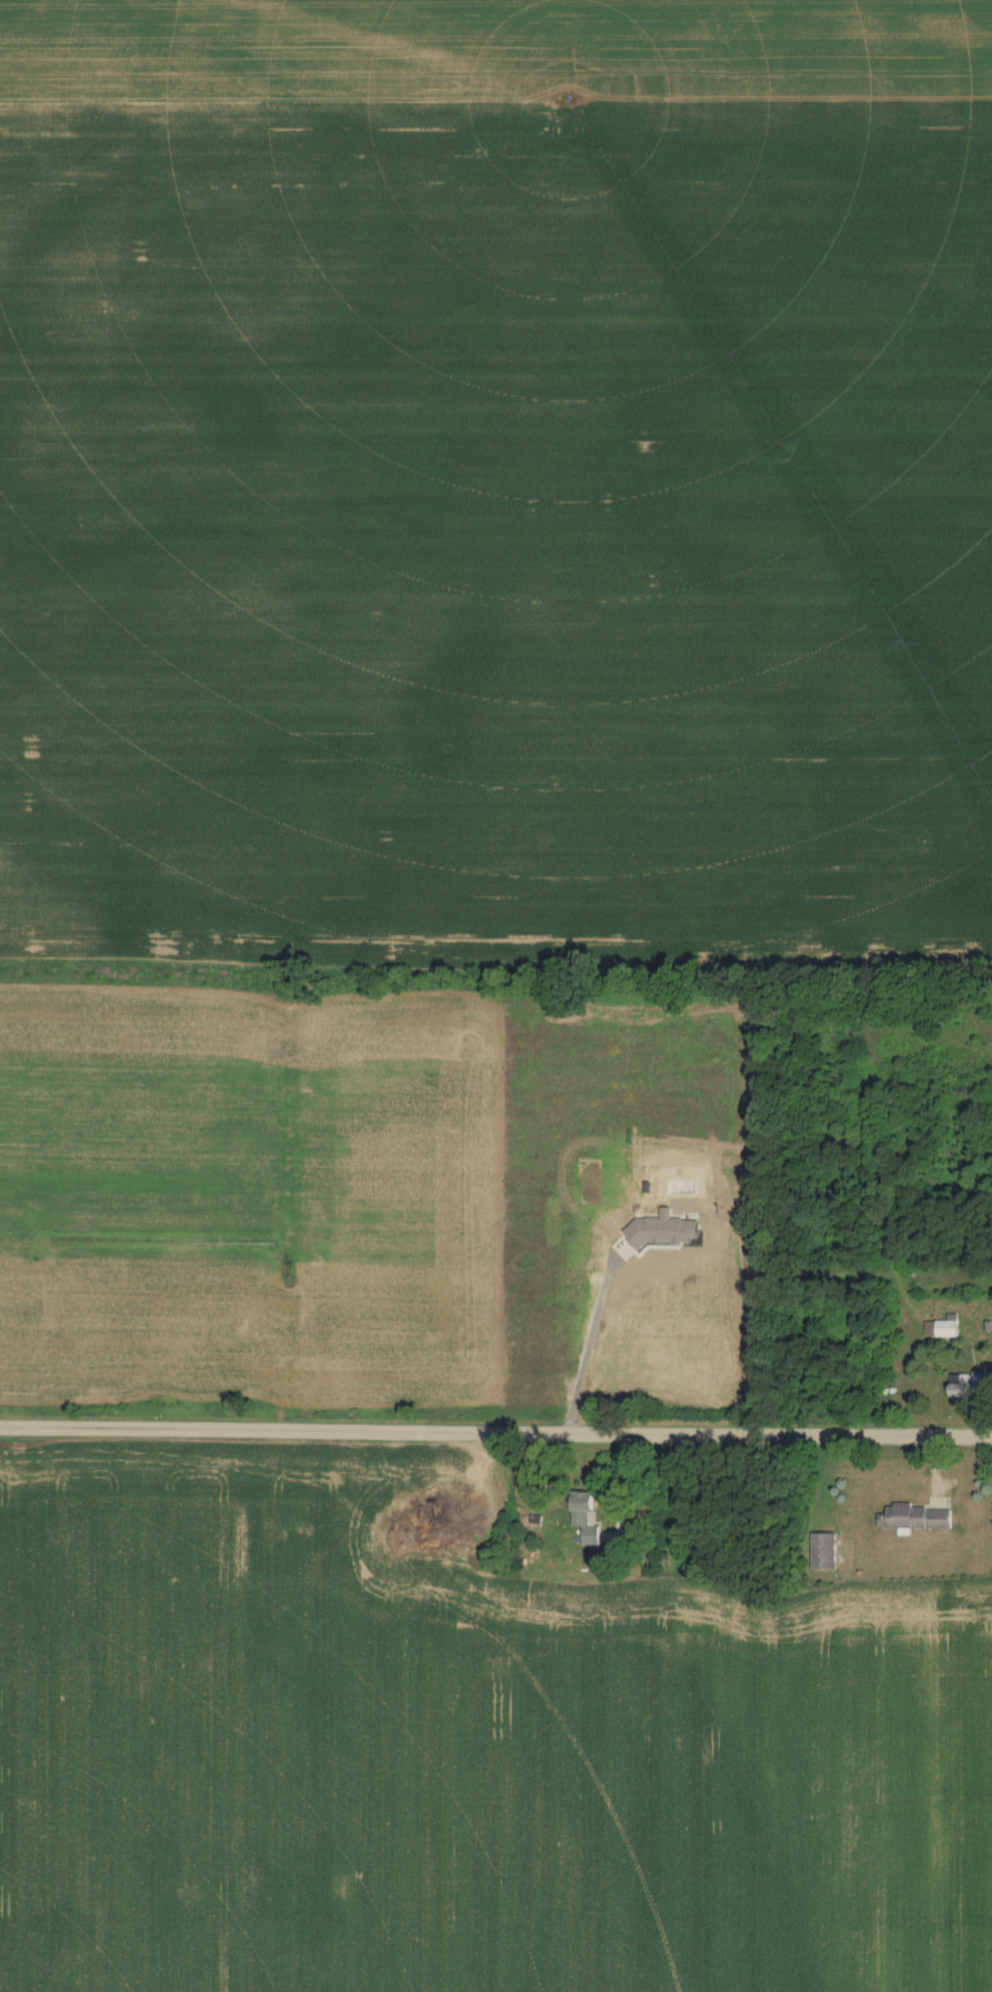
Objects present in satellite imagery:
road: (495, 1428)

